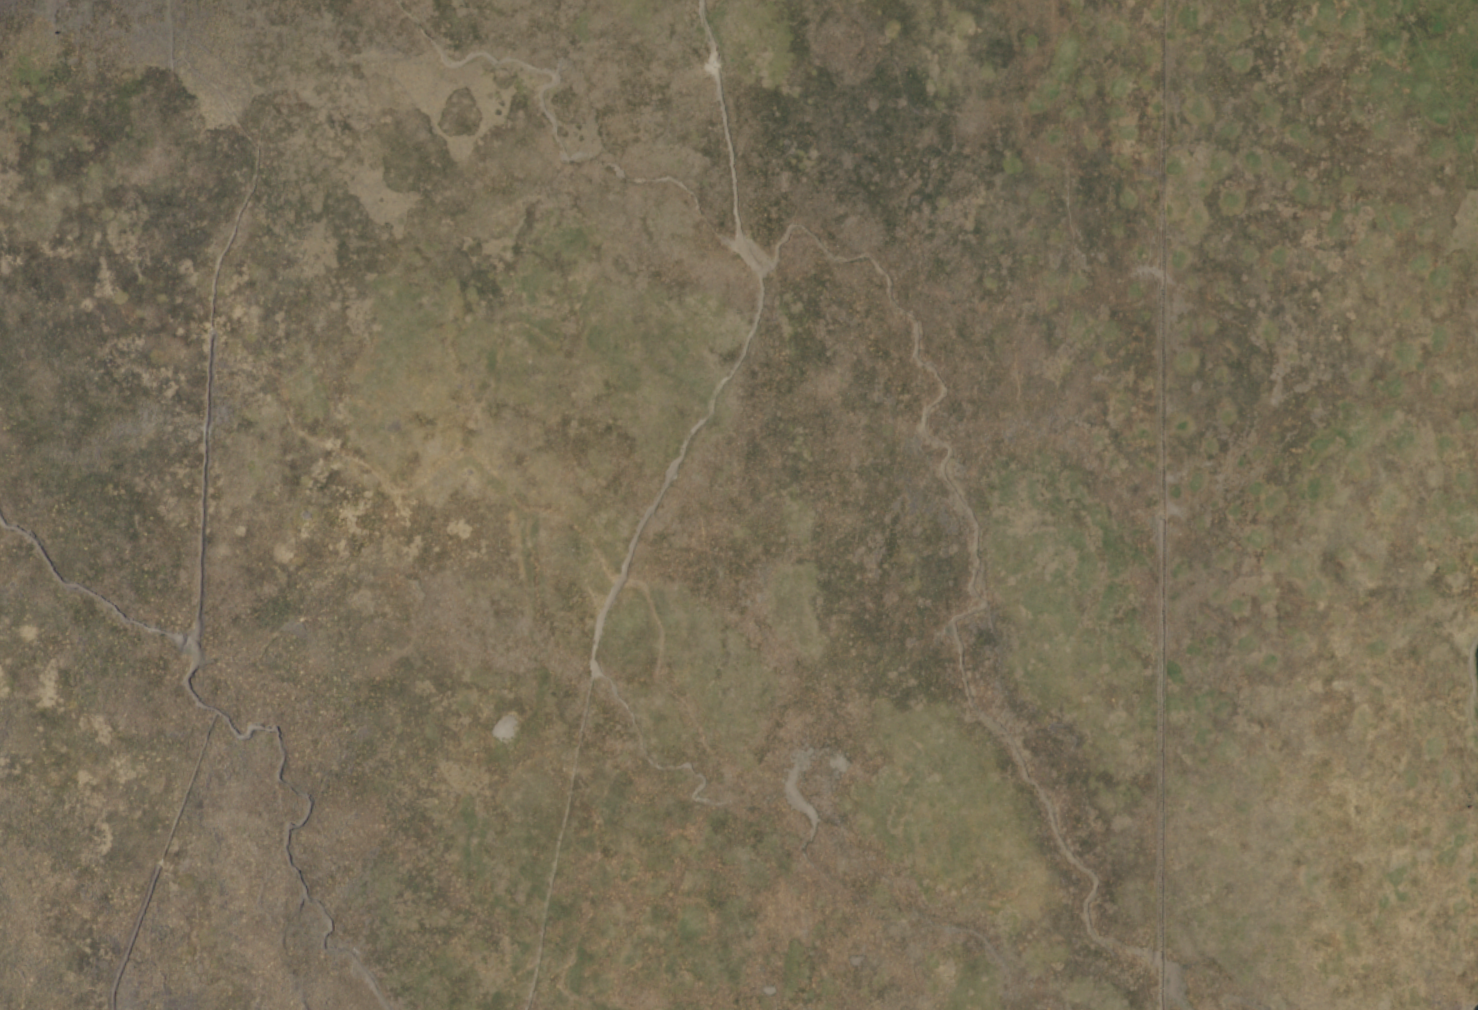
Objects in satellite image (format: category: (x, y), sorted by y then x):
crop: (739, 505)

